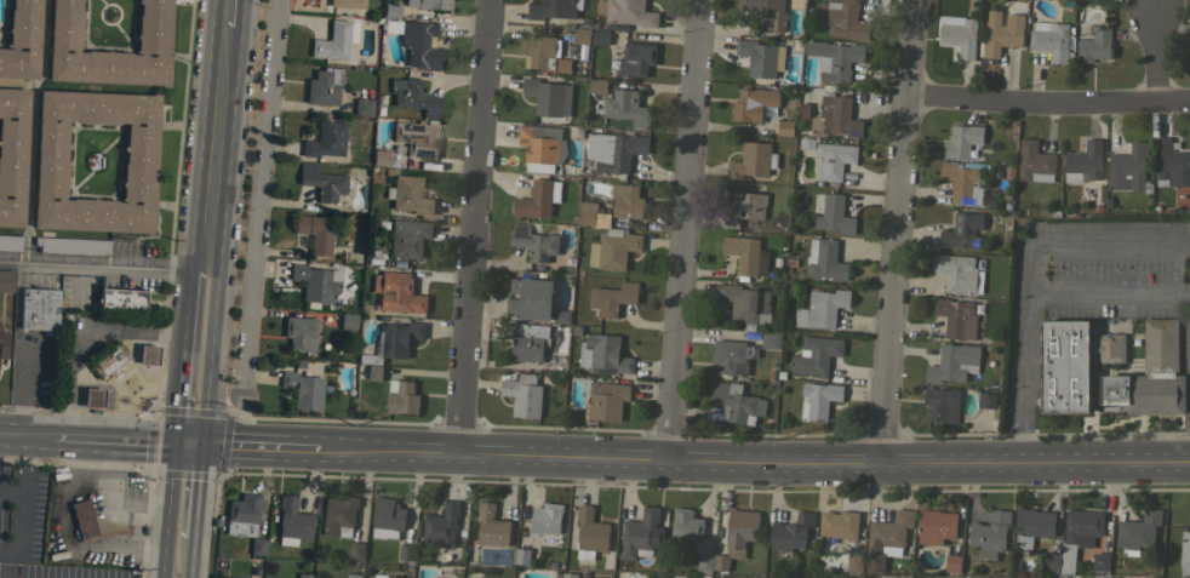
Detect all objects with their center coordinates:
building: (347, 4)
building: (427, 4)
building: (553, 8)
building: (390, 10)
building: (625, 12)
road: (225, 13)
building: (766, 15)
building: (842, 18)
building: (1002, 32)
building: (959, 34)
building: (580, 35)
building: (599, 36)
building: (21, 40)
building: (334, 40)
building: (1051, 40)
building: (151, 42)
building: (417, 42)
building: (1093, 45)
building: (540, 51)
building: (760, 57)
road: (1151, 57)
building: (835, 58)
building: (636, 59)
building: (597, 85)
building: (324, 86)
building: (413, 96)
building: (547, 96)
building: (753, 103)
road: (1049, 103)
building: (362, 107)
building: (625, 108)
rooftop solar panel: (427, 109)
building: (834, 115)
building: (785, 127)
rooftop solar panel: (853, 132)
rooftop solar panel: (401, 136)
building: (416, 138)
building: (325, 139)
building: (965, 142)
building: (542, 143)
road: (214, 149)
building: (614, 150)
building: (12, 154)
building: (379, 158)
building: (753, 160)
building: (51, 161)
building: (833, 161)
building: (1034, 162)
building: (1083, 162)
building: (1172, 162)
building: (1126, 165)
building: (321, 182)
building: (963, 184)
building: (406, 194)
building: (538, 199)
building: (627, 201)
road: (254, 202)
building: (744, 211)
building: (830, 213)
building: (591, 214)
road: (473, 227)
building: (962, 230)
road: (682, 231)
building: (314, 233)
road: (900, 234)
building: (407, 238)
building: (10, 242)
building: (534, 244)
building: (70, 245)
building: (616, 248)
building: (742, 252)
building: (824, 259)
road: (102, 263)
building: (959, 273)
road: (1031, 275)
building: (5, 280)
building: (315, 281)
building: (399, 292)
road: (1110, 293)
building: (612, 297)
building: (531, 298)
building: (121, 301)
road: (201, 303)
building: (745, 303)
building: (40, 308)
building: (820, 308)
building: (956, 317)
building: (64, 319)
building: (347, 320)
building: (299, 332)
road: (88, 333)
building: (527, 339)
building: (770, 339)
building: (2, 342)
building: (393, 344)
building: (147, 354)
building: (603, 354)
building: (816, 354)
building: (732, 355)
building: (109, 361)
building: (952, 362)
building: (1071, 362)
building: (1149, 376)
road: (124, 385)
road: (177, 385)
road: (205, 388)
building: (302, 389)
road: (22, 391)
building: (522, 394)
building: (402, 396)
building: (92, 397)
building: (819, 397)
building: (986, 399)
building: (606, 400)
building: (734, 402)
building: (940, 402)
road: (25, 440)
road: (124, 443)
traffic signals: (172, 445)
traffic signals: (198, 445)
road: (258, 447)
road: (754, 465)
road: (193, 491)
road: (16, 492)
road: (30, 504)
building: (242, 509)
road: (165, 510)
building: (338, 515)
building: (387, 517)
building: (291, 521)
building: (547, 522)
building: (93, 523)
building: (686, 523)
building: (839, 523)
building: (441, 525)
building: (491, 525)
building: (936, 526)
building: (1032, 526)
building: (1082, 526)
building: (1138, 531)
building: (790, 532)
building: (888, 532)
building: (589, 533)
building: (989, 533)
building: (641, 534)
building: (737, 536)
building: (257, 545)
building: (356, 550)
building: (406, 551)
building: (1184, 554)
building: (522, 555)
road: (5, 557)
road: (187, 557)
building: (1066, 559)
building: (1051, 560)
building: (1100, 561)
building: (704, 562)
building: (854, 562)
building: (952, 562)
road: (11, 570)
building: (570, 574)
building: (303, 576)
building: (354, 576)
building: (393, 576)
building: (704, 576)
building: (1000, 576)
building: (1152, 576)
building: (230, 577)
building: (378, 577)
building: (434, 577)

